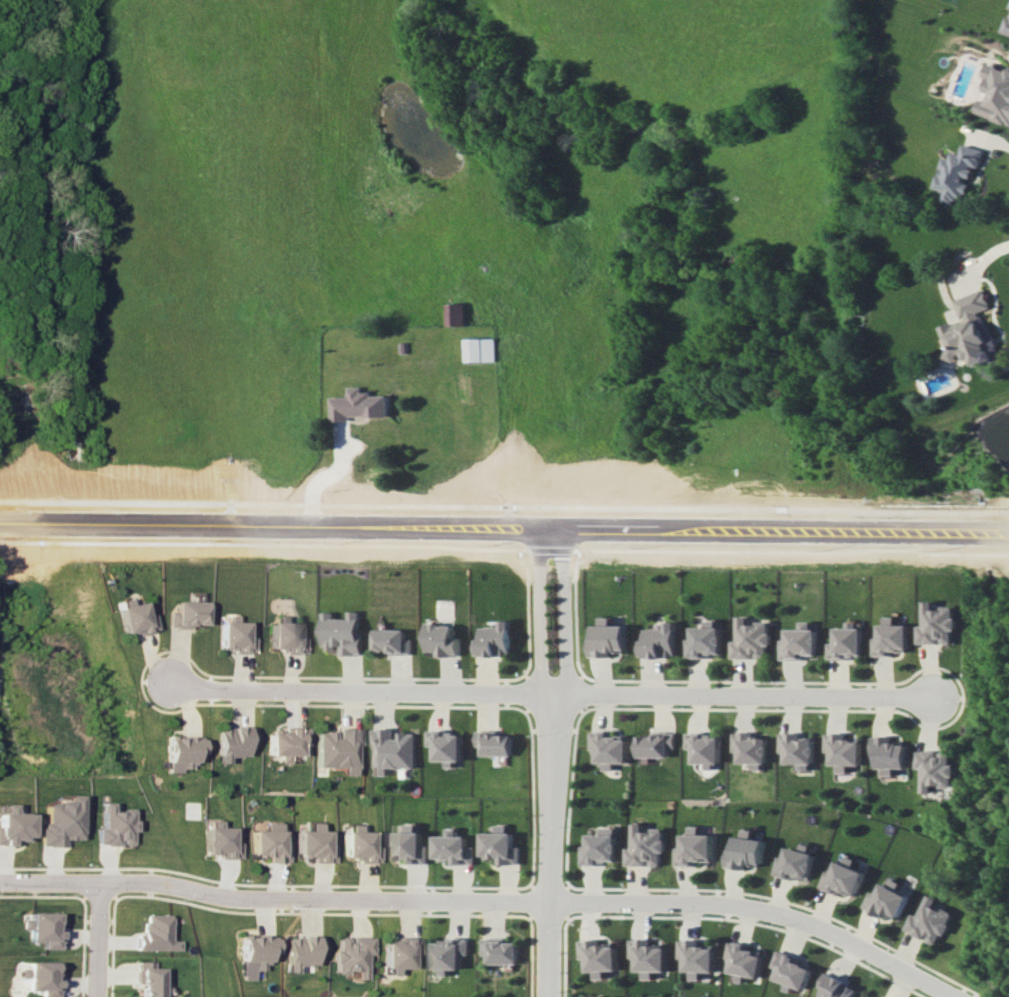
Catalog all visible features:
building: (1006, 25)
building: (996, 94)
road: (987, 136)
building: (959, 172)
building: (456, 314)
building: (971, 331)
building: (479, 349)
building: (360, 405)
road: (471, 523)
road: (975, 532)
building: (189, 614)
building: (134, 617)
building: (937, 624)
building: (341, 633)
building: (235, 636)
building: (287, 636)
building: (891, 638)
building: (496, 639)
building: (606, 639)
building: (748, 639)
building: (441, 640)
building: (702, 640)
building: (391, 641)
building: (659, 641)
building: (797, 642)
building: (845, 642)
road: (552, 692)
building: (235, 742)
building: (492, 742)
building: (289, 744)
building: (652, 744)
building: (444, 746)
building: (606, 748)
building: (701, 748)
building: (340, 749)
building: (748, 749)
building: (796, 749)
building: (391, 750)
building: (842, 750)
building: (182, 752)
building: (888, 754)
road: (551, 760)
building: (936, 769)
building: (60, 822)
building: (12, 825)
building: (113, 825)
building: (220, 841)
building: (270, 843)
building: (315, 844)
building: (360, 845)
building: (407, 845)
building: (500, 845)
building: (645, 846)
building: (601, 847)
building: (453, 848)
building: (694, 848)
building: (744, 850)
building: (794, 862)
building: (842, 878)
road: (331, 898)
building: (885, 900)
building: (929, 920)
road: (814, 928)
building: (45, 929)
building: (154, 933)
road: (105, 943)
building: (302, 951)
building: (500, 951)
building: (400, 953)
building: (253, 954)
building: (449, 954)
building: (353, 955)
building: (599, 956)
building: (648, 956)
building: (697, 957)
building: (743, 960)
building: (790, 970)
building: (44, 977)
building: (147, 980)
building: (834, 987)
building: (866, 996)

